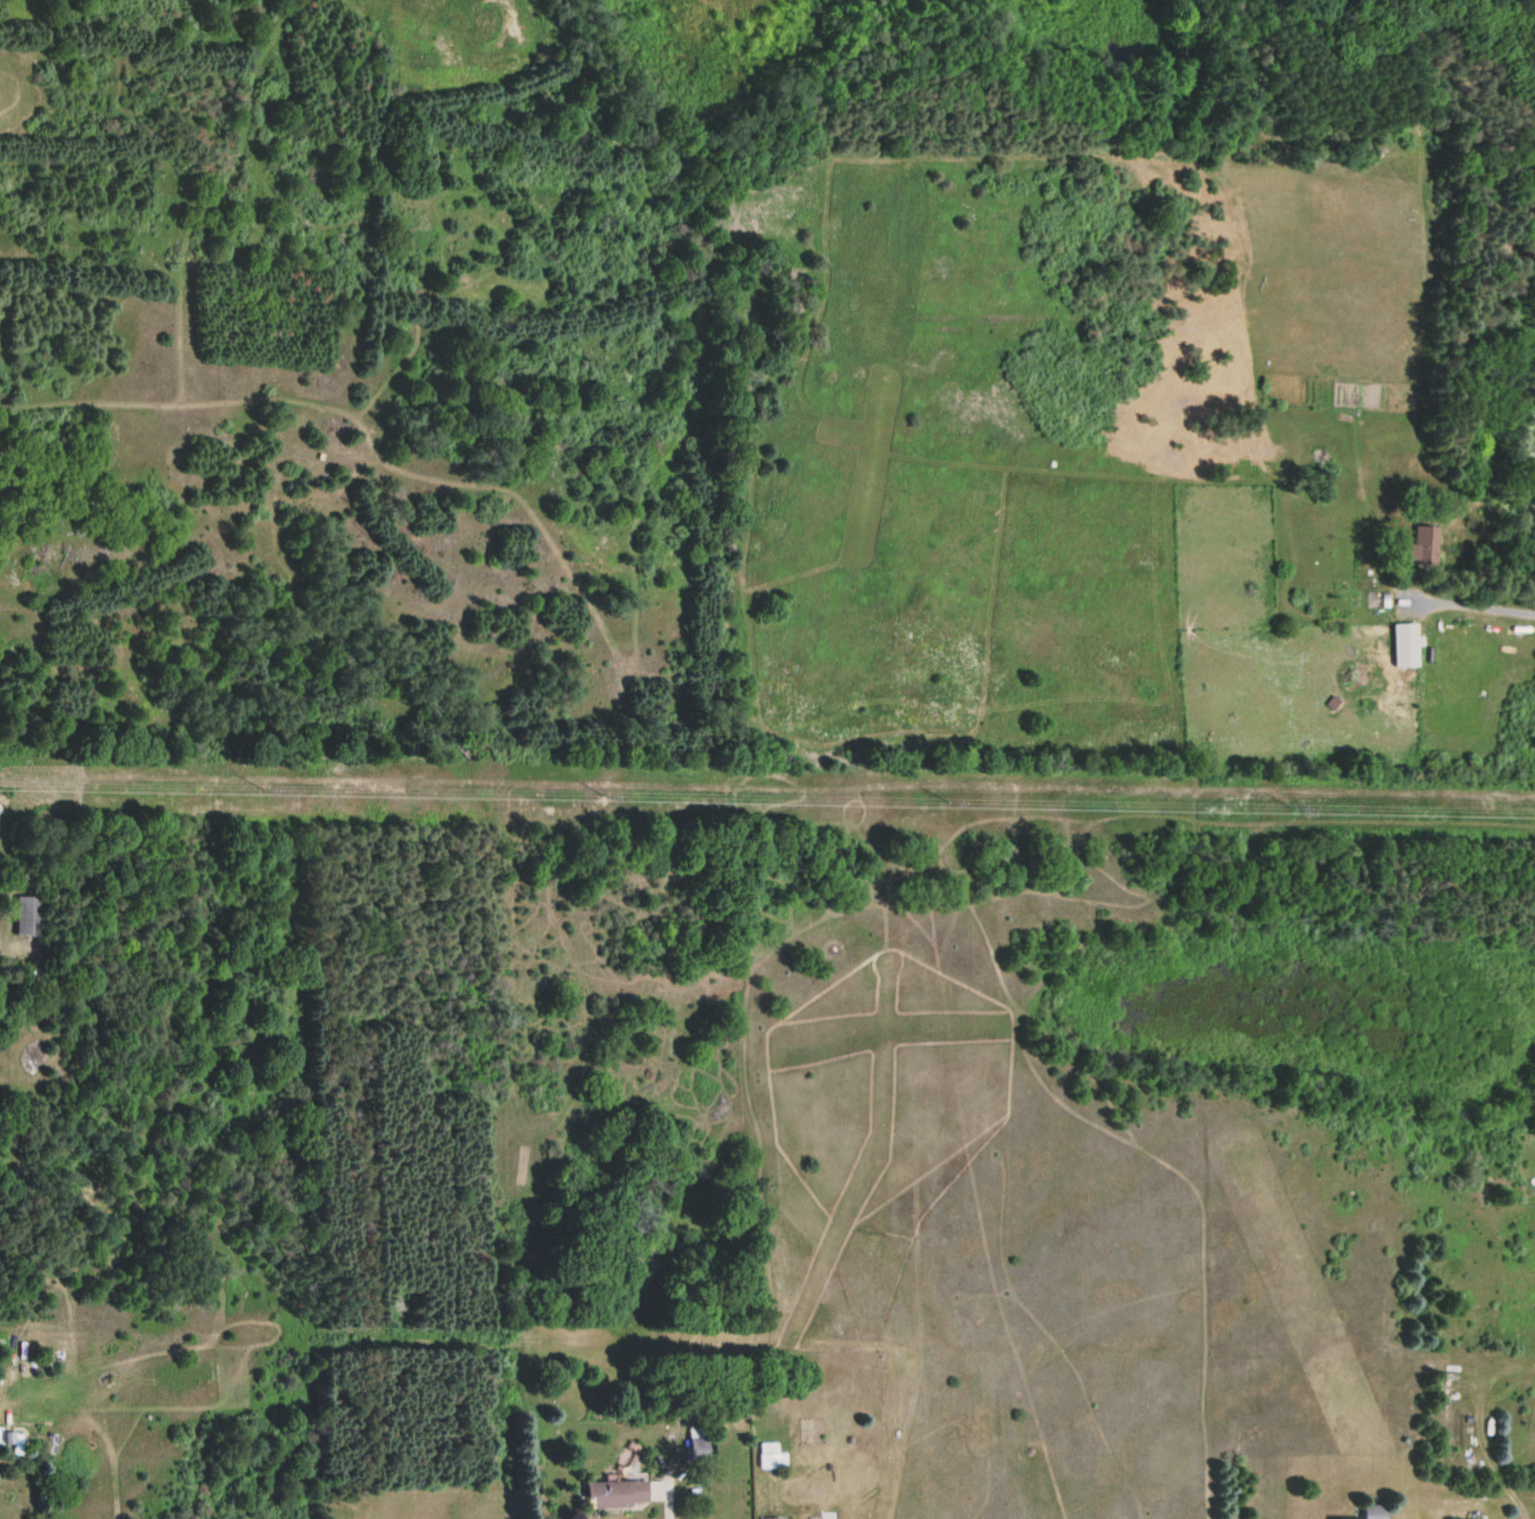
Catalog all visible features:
building: (1422, 546)
building: (1404, 645)
building: (27, 914)
building: (8, 1437)
building: (697, 1448)
building: (615, 1494)
building: (1374, 1511)
building: (769, 1518)

